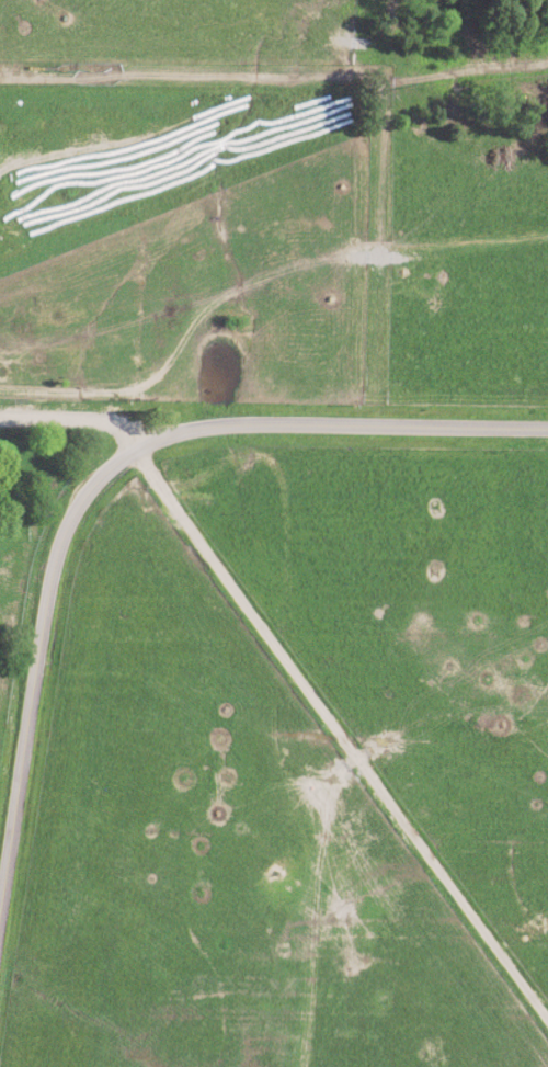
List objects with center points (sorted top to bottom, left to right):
road: (76, 415)
road: (96, 483)
crop: (274, 533)

